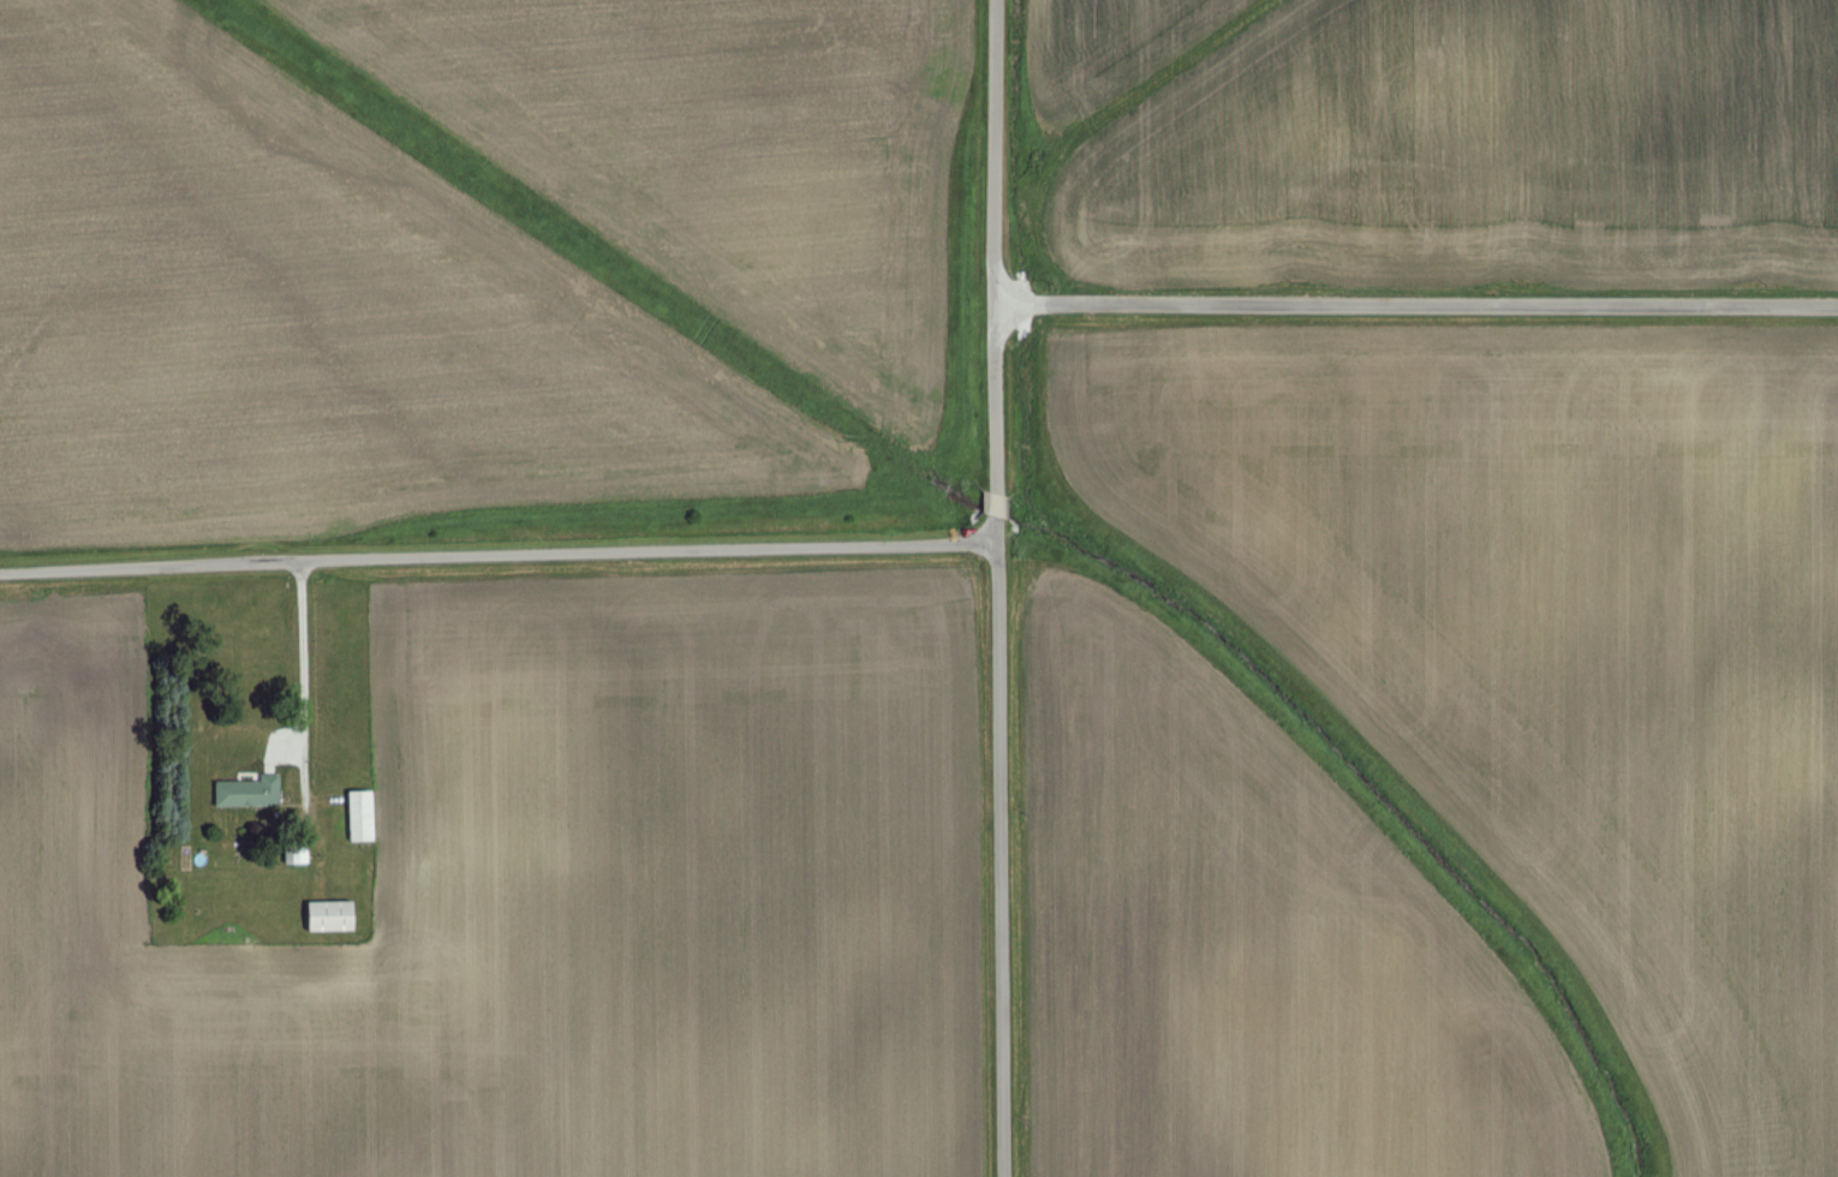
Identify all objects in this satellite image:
road: (1416, 304)
road: (497, 554)
road: (997, 587)
road: (300, 682)
building: (246, 790)
building: (327, 915)

